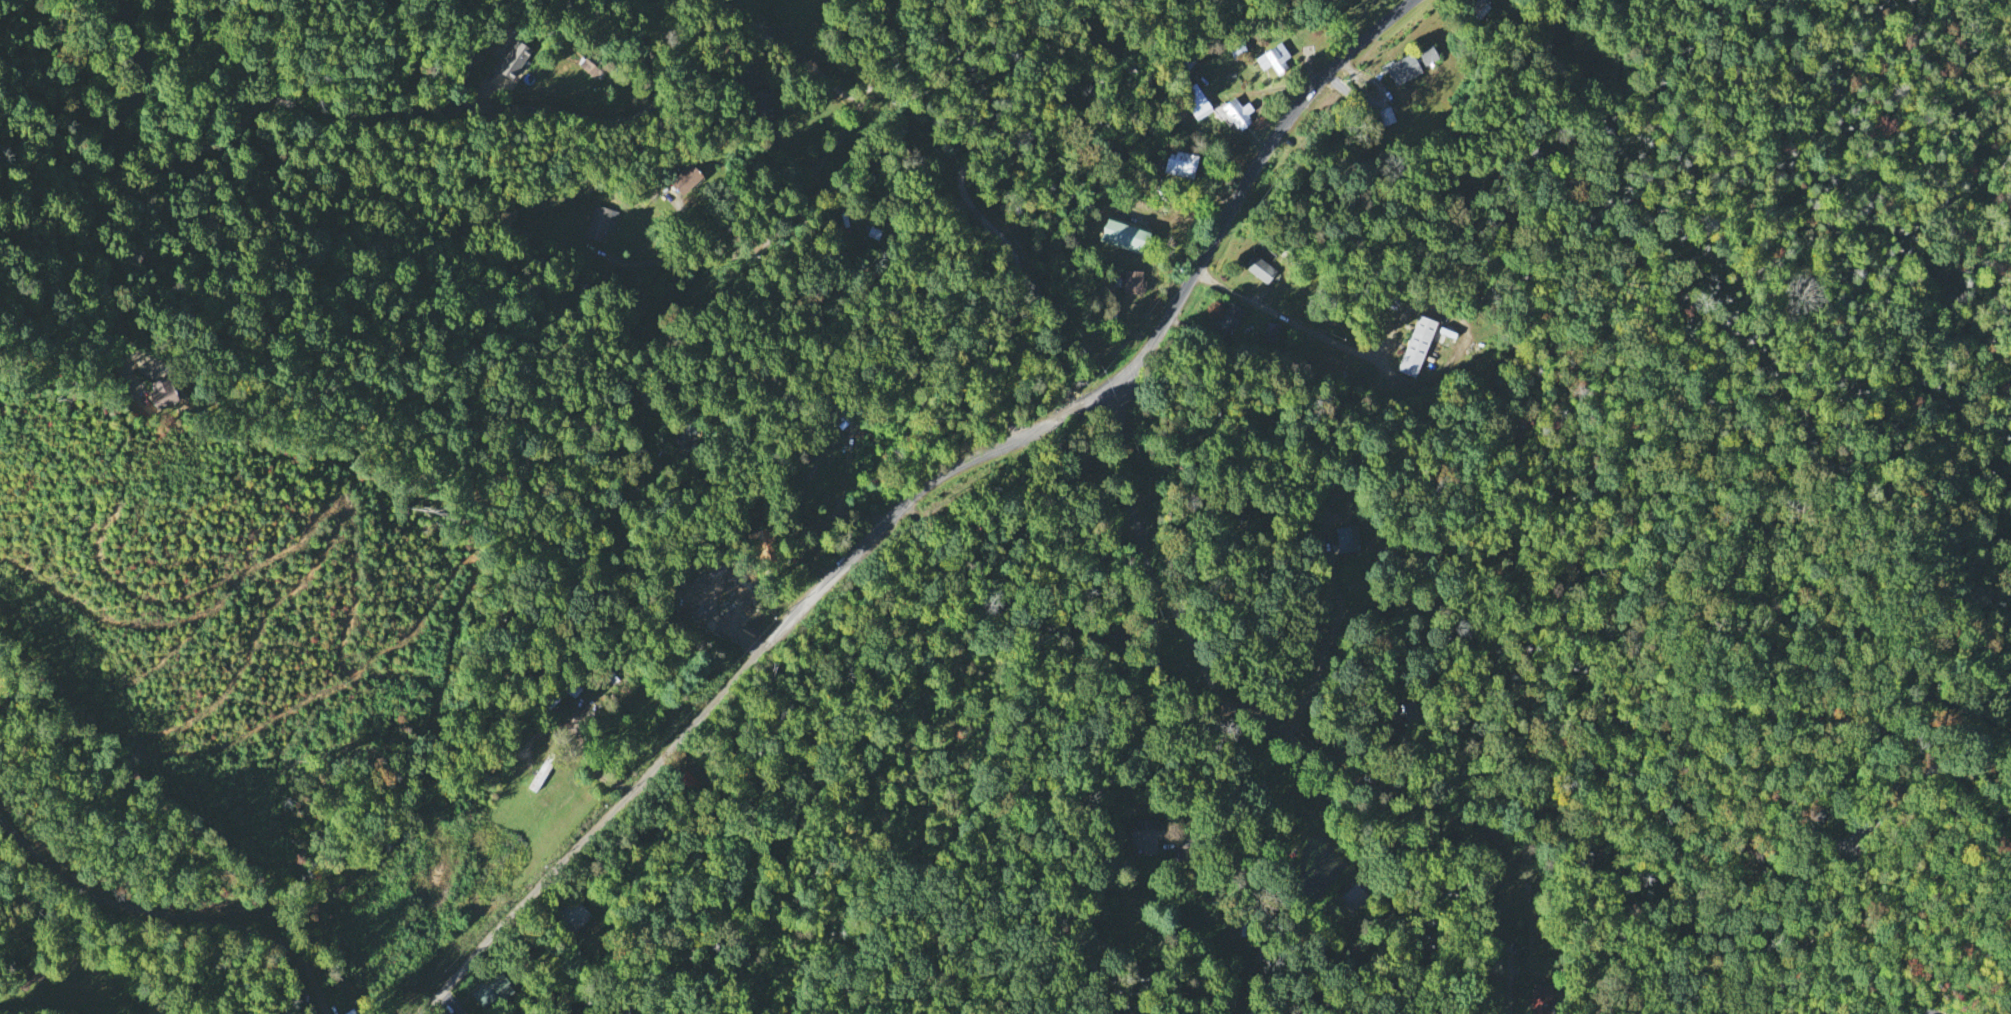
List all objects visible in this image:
road: (631, 7)
building: (1479, 7)
road: (888, 10)
road: (866, 11)
road: (900, 24)
road: (949, 35)
road: (790, 51)
building: (1427, 54)
building: (1274, 57)
road: (146, 58)
building: (512, 58)
building: (589, 66)
building: (1402, 68)
building: (1197, 100)
road: (349, 111)
building: (1235, 112)
building: (1180, 163)
building: (685, 178)
road: (1241, 190)
building: (600, 222)
building: (1123, 235)
building: (1260, 267)
building: (1133, 281)
building: (1231, 314)
road: (1284, 316)
building: (1271, 330)
road: (625, 338)
building: (1416, 345)
building: (160, 390)
road: (1071, 410)
road: (1123, 468)
building: (1349, 537)
road: (1182, 624)
road: (717, 697)
road: (1170, 713)
road: (1291, 740)
road: (587, 760)
road: (894, 771)
road: (1243, 793)
road: (1817, 814)
building: (1149, 834)
dam: (1334, 835)
dam: (1351, 854)
building: (1354, 892)
road: (172, 909)
road: (1817, 928)
building: (492, 988)
building: (1540, 997)
road: (1935, 1012)

